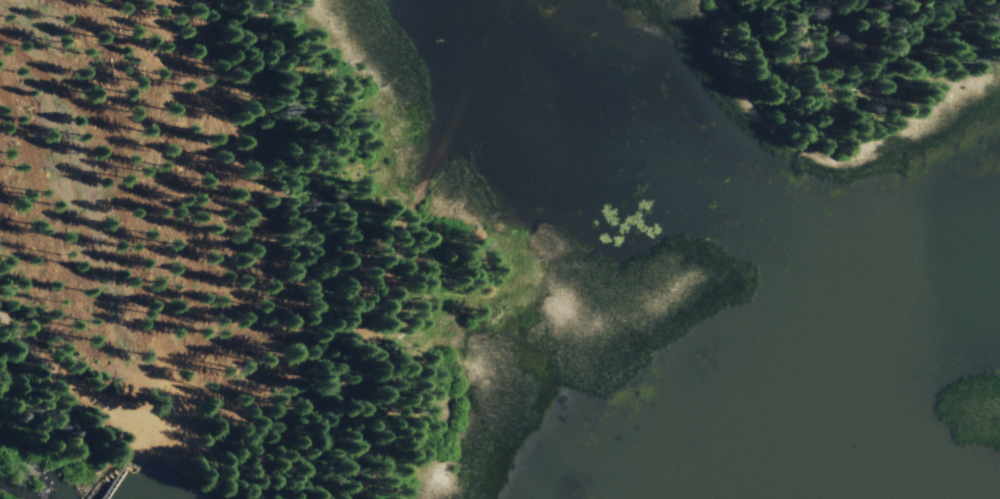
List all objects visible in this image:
road: (81, 384)
dam: (130, 482)

